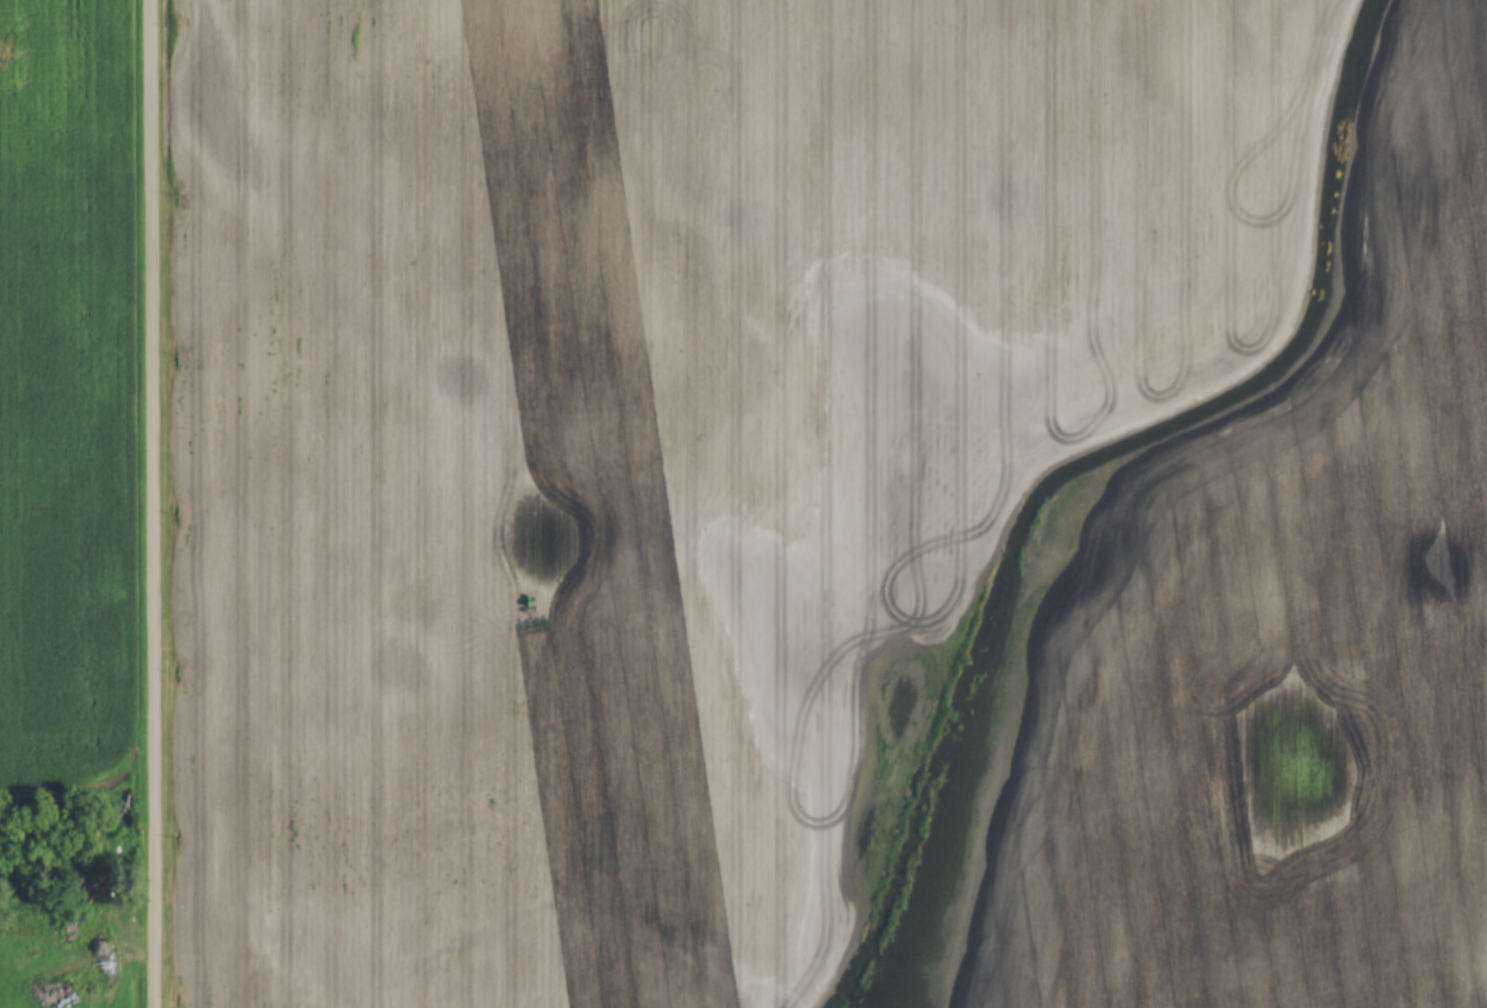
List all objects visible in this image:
road: (155, 503)
building: (89, 898)
silo: (89, 898)
building: (92, 913)
silo: (92, 913)
building: (91, 931)
silo: (91, 931)
building: (69, 932)
silo: (69, 932)
building: (48, 933)
silo: (48, 933)
building: (26, 934)
silo: (26, 934)
building: (89, 992)
silo: (89, 992)
building: (64, 993)
silo: (64, 993)

